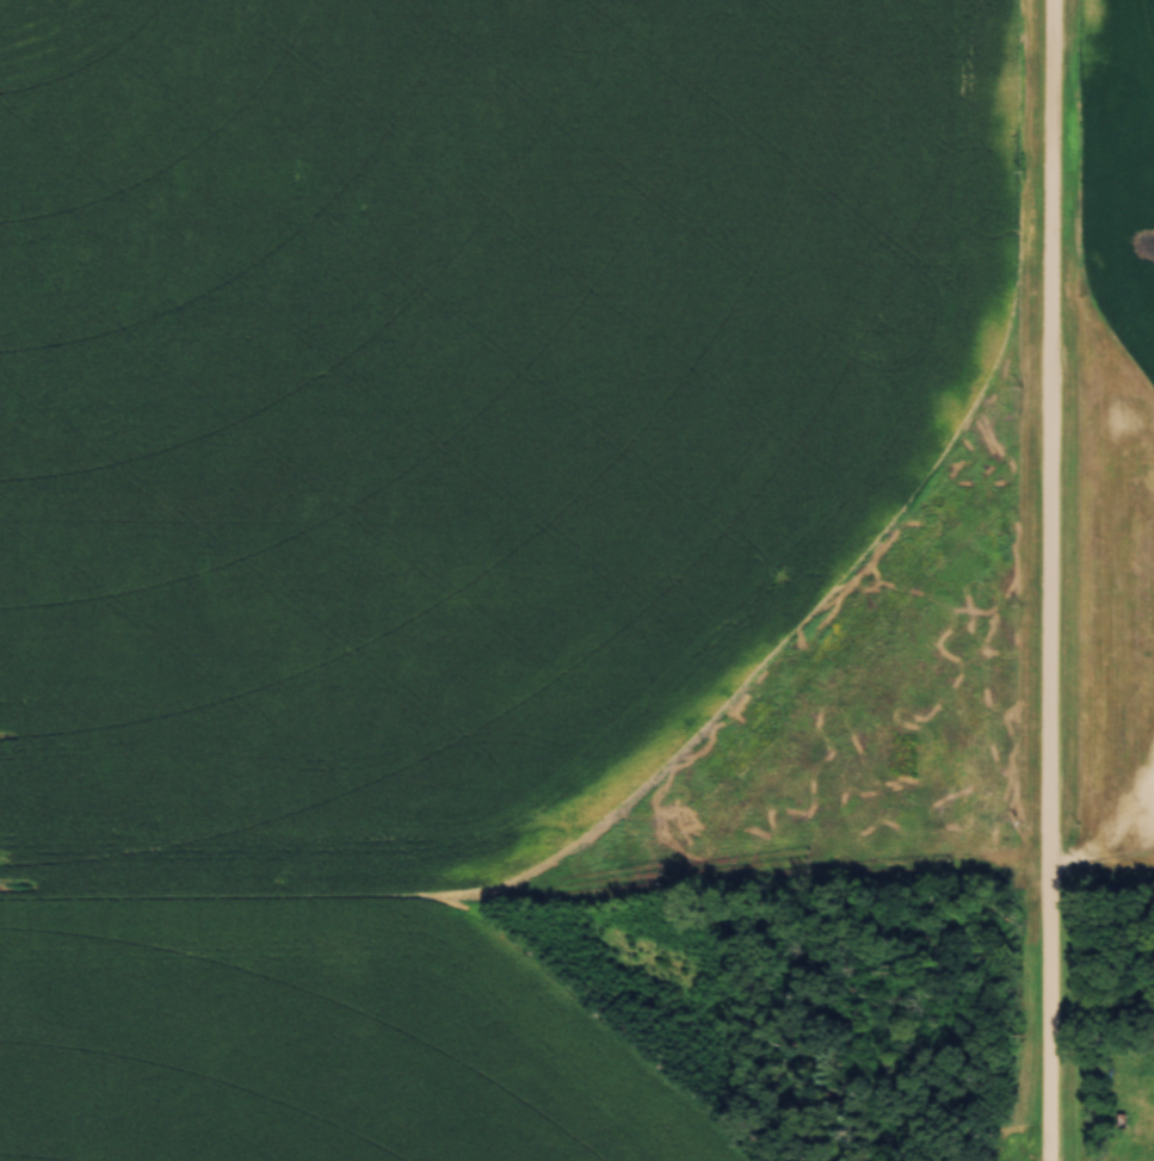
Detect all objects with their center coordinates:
road: (1049, 580)

